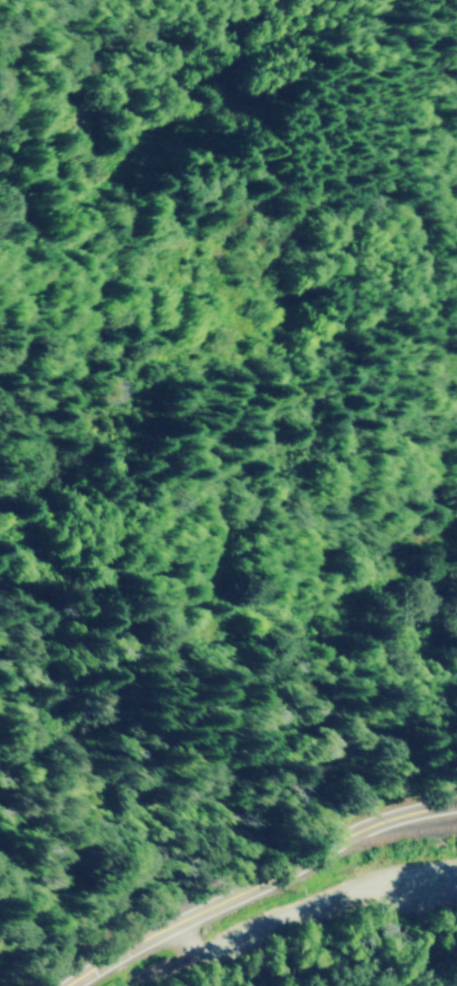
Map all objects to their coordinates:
railway: (232, 876)
road: (256, 885)
road: (294, 913)

